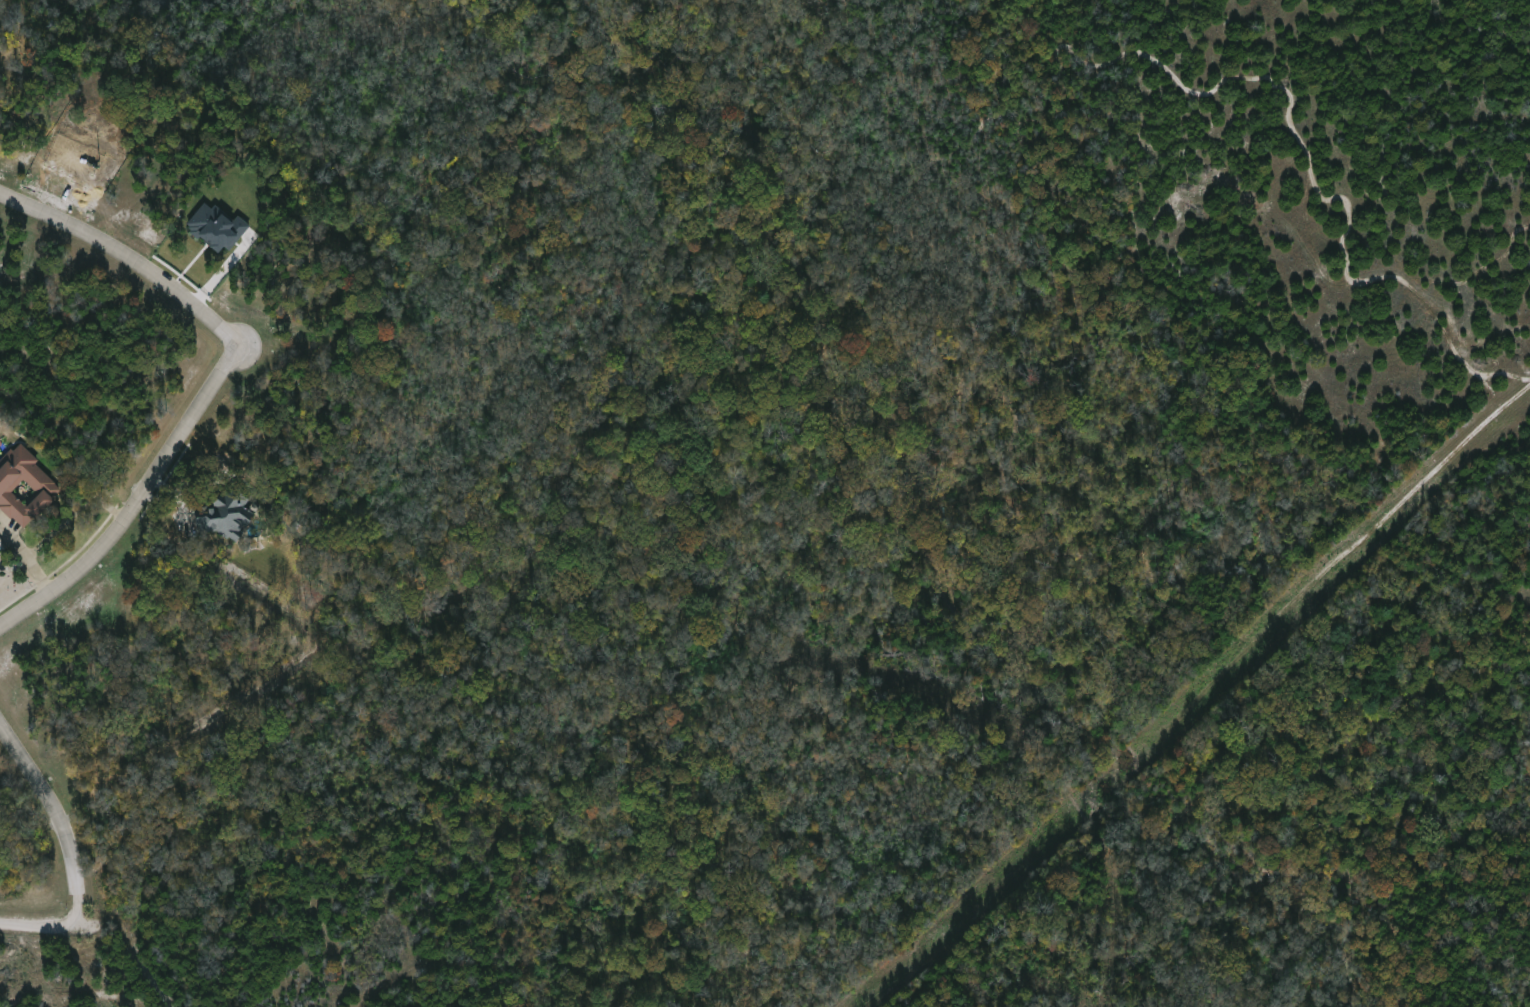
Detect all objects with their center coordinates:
road: (127, 257)
building: (26, 488)
road: (136, 501)
road: (56, 817)
road: (37, 926)

